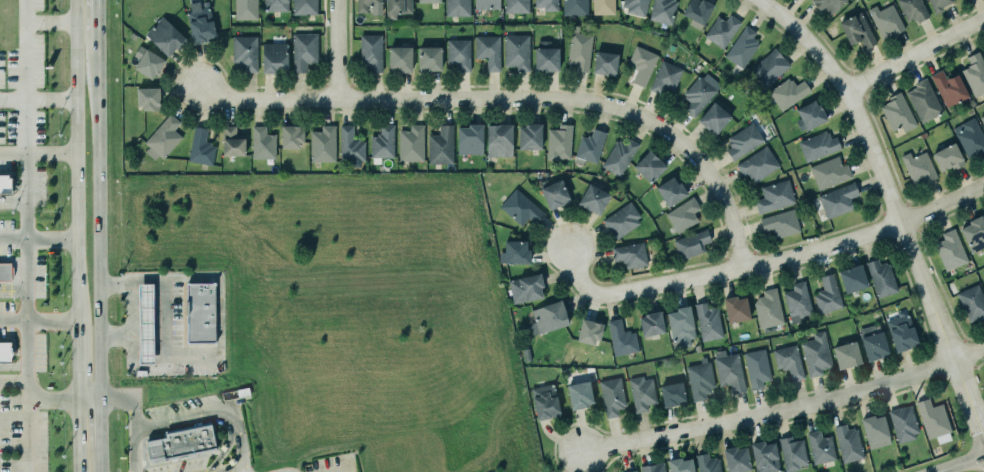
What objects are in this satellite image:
building: (429, 1)
building: (366, 4)
building: (487, 4)
building: (546, 4)
building: (938, 4)
building: (275, 5)
building: (516, 5)
building: (635, 6)
building: (827, 6)
building: (304, 7)
building: (397, 7)
building: (457, 7)
building: (575, 7)
building: (603, 7)
building: (246, 9)
building: (913, 9)
building: (698, 10)
building: (662, 11)
road: (48, 19)
building: (200, 20)
building: (885, 20)
road: (97, 26)
building: (721, 30)
building: (857, 30)
building: (165, 35)
building: (741, 46)
road: (22, 50)
building: (303, 50)
road: (335, 50)
building: (488, 50)
building: (516, 50)
building: (579, 50)
building: (983, 50)
building: (245, 51)
building: (371, 51)
building: (459, 53)
road: (914, 54)
building: (545, 55)
building: (274, 56)
building: (429, 56)
building: (400, 57)
building: (147, 60)
building: (604, 62)
building: (641, 64)
building: (770, 66)
building: (974, 73)
building: (664, 77)
building: (949, 87)
building: (699, 93)
building: (787, 93)
building: (147, 96)
road: (37, 99)
road: (512, 100)
building: (923, 100)
building: (897, 112)
building: (811, 114)
building: (714, 118)
building: (982, 118)
building: (291, 135)
building: (529, 135)
building: (162, 137)
building: (969, 137)
building: (469, 138)
building: (499, 138)
building: (232, 141)
building: (743, 141)
building: (262, 142)
building: (382, 142)
building: (411, 142)
building: (559, 142)
building: (322, 144)
building: (349, 144)
building: (441, 145)
building: (589, 145)
building: (817, 145)
building: (200, 147)
road: (50, 151)
road: (12, 152)
building: (619, 155)
building: (948, 157)
building: (757, 164)
building: (649, 165)
road: (76, 167)
building: (918, 167)
road: (24, 169)
building: (829, 172)
building: (4, 184)
building: (670, 189)
building: (554, 192)
building: (774, 196)
building: (593, 197)
building: (838, 200)
road: (12, 204)
building: (520, 207)
road: (893, 208)
building: (683, 214)
building: (622, 219)
building: (780, 222)
building: (974, 233)
road: (37, 239)
building: (691, 243)
building: (950, 250)
building: (513, 251)
building: (630, 254)
road: (98, 262)
road: (765, 264)
building: (3, 270)
building: (853, 277)
building: (881, 277)
road: (12, 286)
building: (525, 286)
road: (12, 292)
building: (827, 293)
building: (797, 301)
building: (972, 302)
building: (736, 308)
building: (768, 308)
building: (201, 314)
building: (547, 316)
road: (38, 321)
building: (707, 321)
building: (651, 322)
building: (145, 323)
building: (681, 326)
building: (589, 330)
building: (902, 332)
road: (113, 338)
building: (621, 338)
building: (873, 342)
building: (697, 347)
building: (4, 351)
road: (165, 351)
building: (816, 353)
building: (847, 353)
road: (25, 355)
building: (788, 360)
building: (756, 367)
road: (13, 368)
road: (77, 368)
building: (728, 370)
building: (699, 378)
road: (13, 383)
building: (641, 392)
building: (579, 393)
building: (672, 393)
building: (612, 395)
building: (545, 400)
road: (51, 401)
road: (87, 401)
road: (785, 409)
road: (208, 412)
building: (932, 418)
road: (130, 420)
building: (903, 423)
road: (201, 424)
building: (874, 427)
road: (77, 436)
building: (180, 443)
building: (848, 443)
building: (820, 447)
building: (792, 452)
building: (765, 456)
building: (736, 458)
building: (707, 463)
road: (959, 463)
building: (680, 465)
building: (653, 467)
road: (237, 471)
building: (631, 471)

